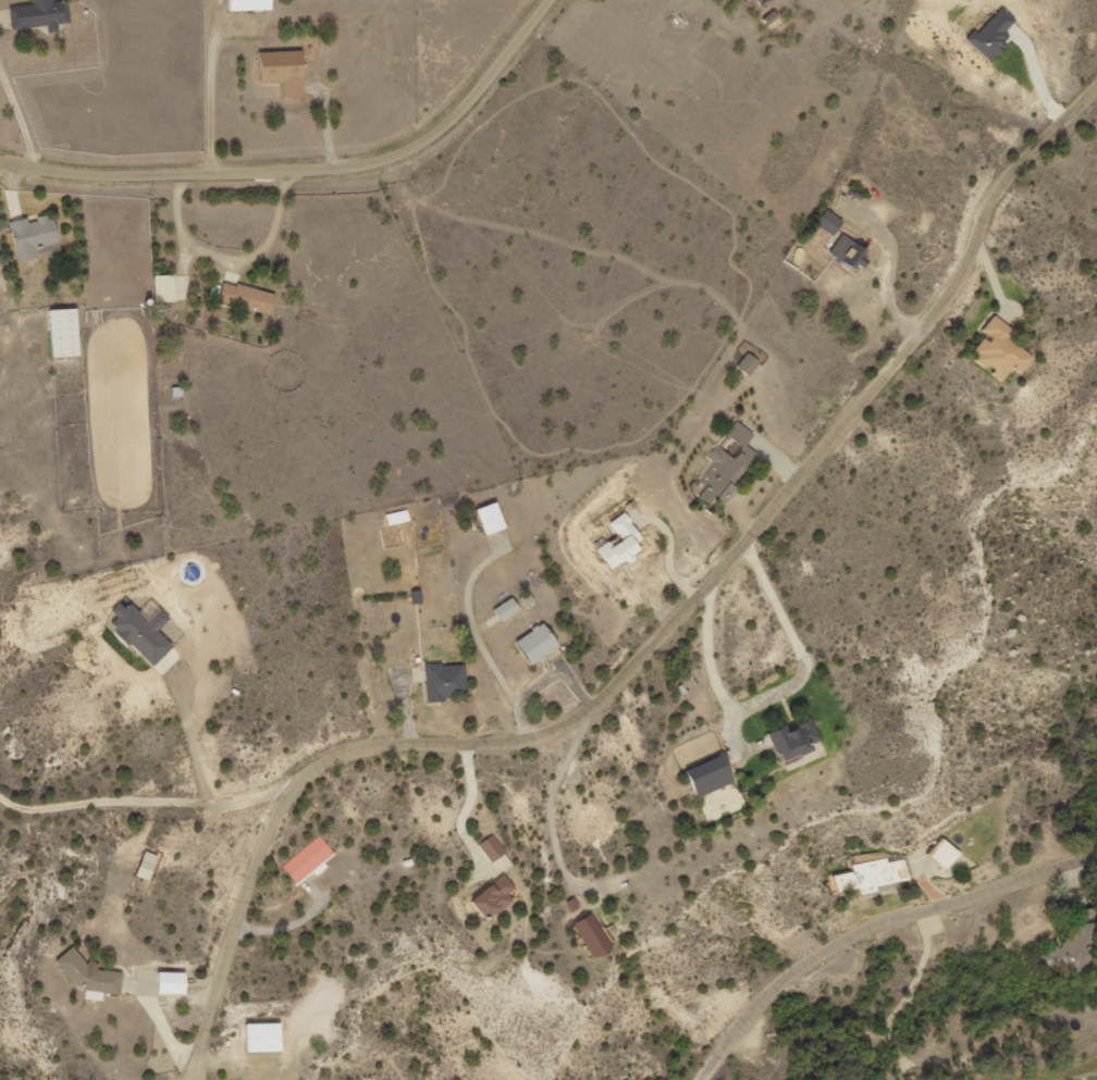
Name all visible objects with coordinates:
building: (249, 4)
building: (40, 14)
building: (772, 21)
building: (993, 34)
building: (285, 71)
road: (306, 165)
building: (829, 222)
building: (33, 236)
building: (849, 251)
building: (165, 288)
building: (247, 297)
building: (65, 332)
building: (1000, 350)
building: (748, 363)
building: (726, 465)
building: (396, 517)
building: (491, 518)
building: (621, 543)
building: (507, 609)
building: (143, 632)
building: (538, 643)
road: (664, 655)
building: (446, 681)
building: (796, 740)
building: (712, 774)
road: (144, 825)
building: (491, 848)
building: (945, 853)
building: (307, 859)
building: (147, 866)
building: (871, 876)
building: (495, 897)
road: (884, 933)
building: (592, 935)
building: (1068, 946)
building: (90, 976)
building: (172, 982)
road: (887, 1008)
building: (264, 1036)
river: (1059, 1076)

